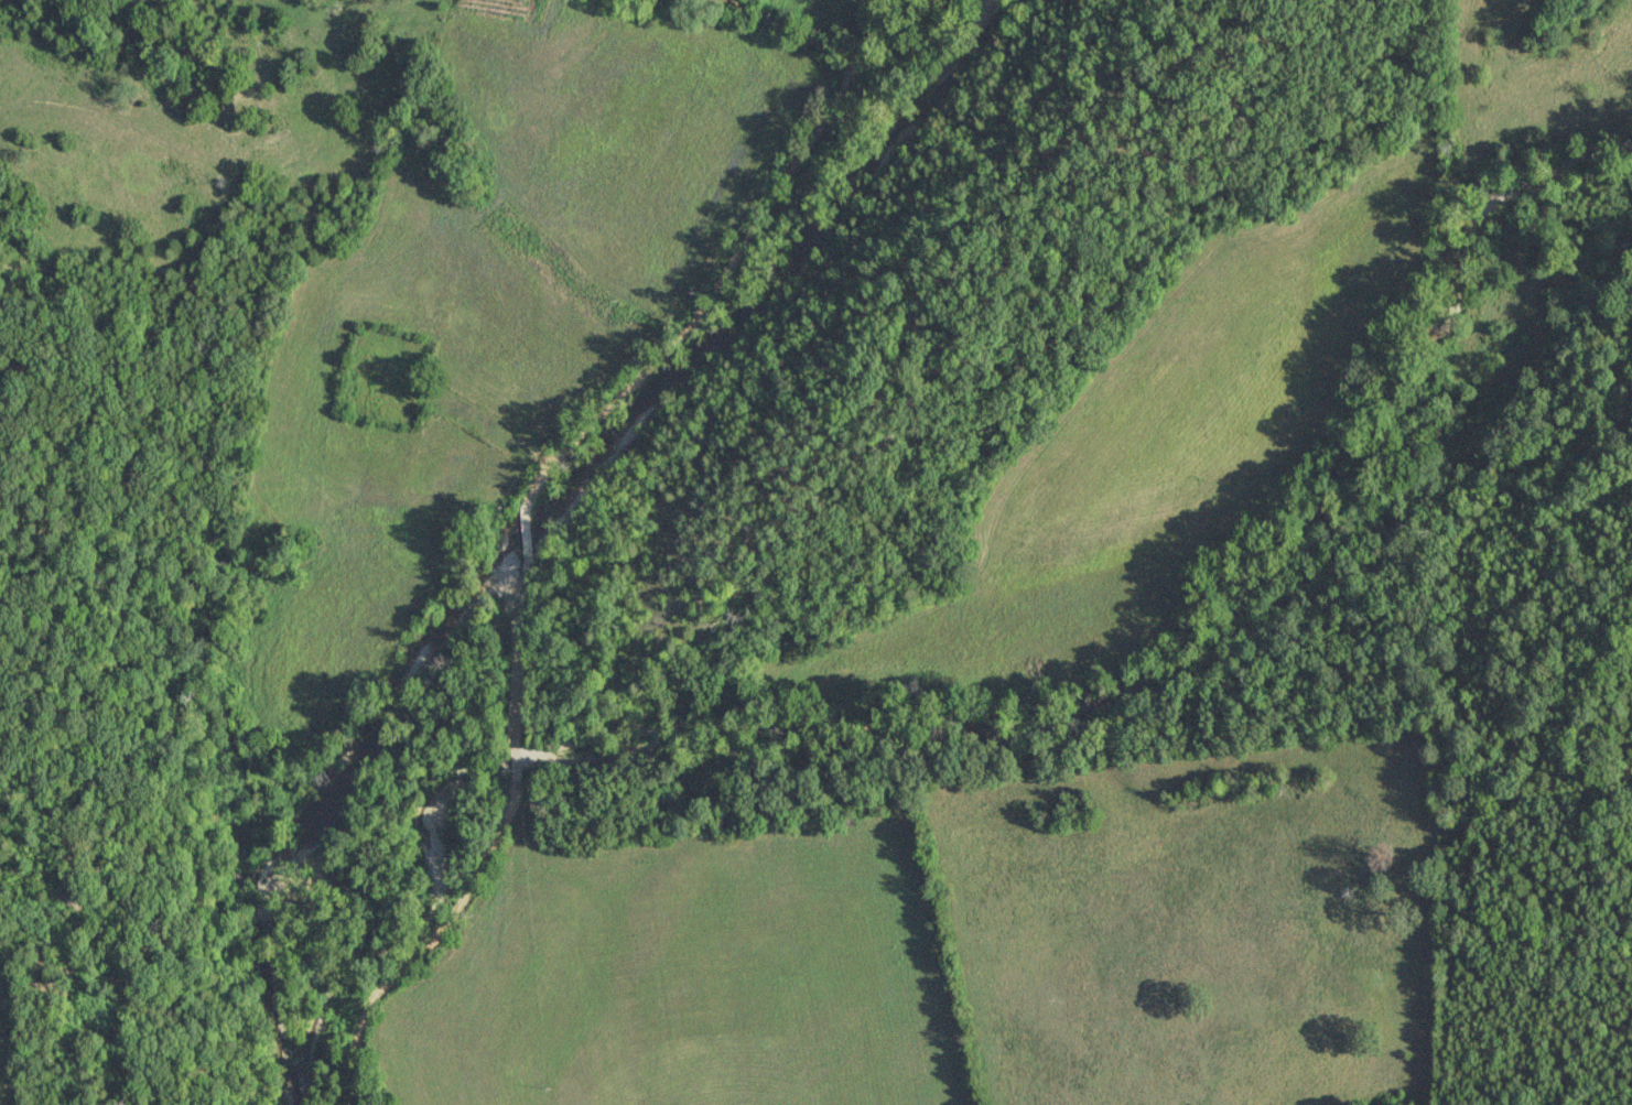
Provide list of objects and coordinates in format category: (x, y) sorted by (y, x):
road: (783, 33)
park: (387, 381)
road: (528, 511)

